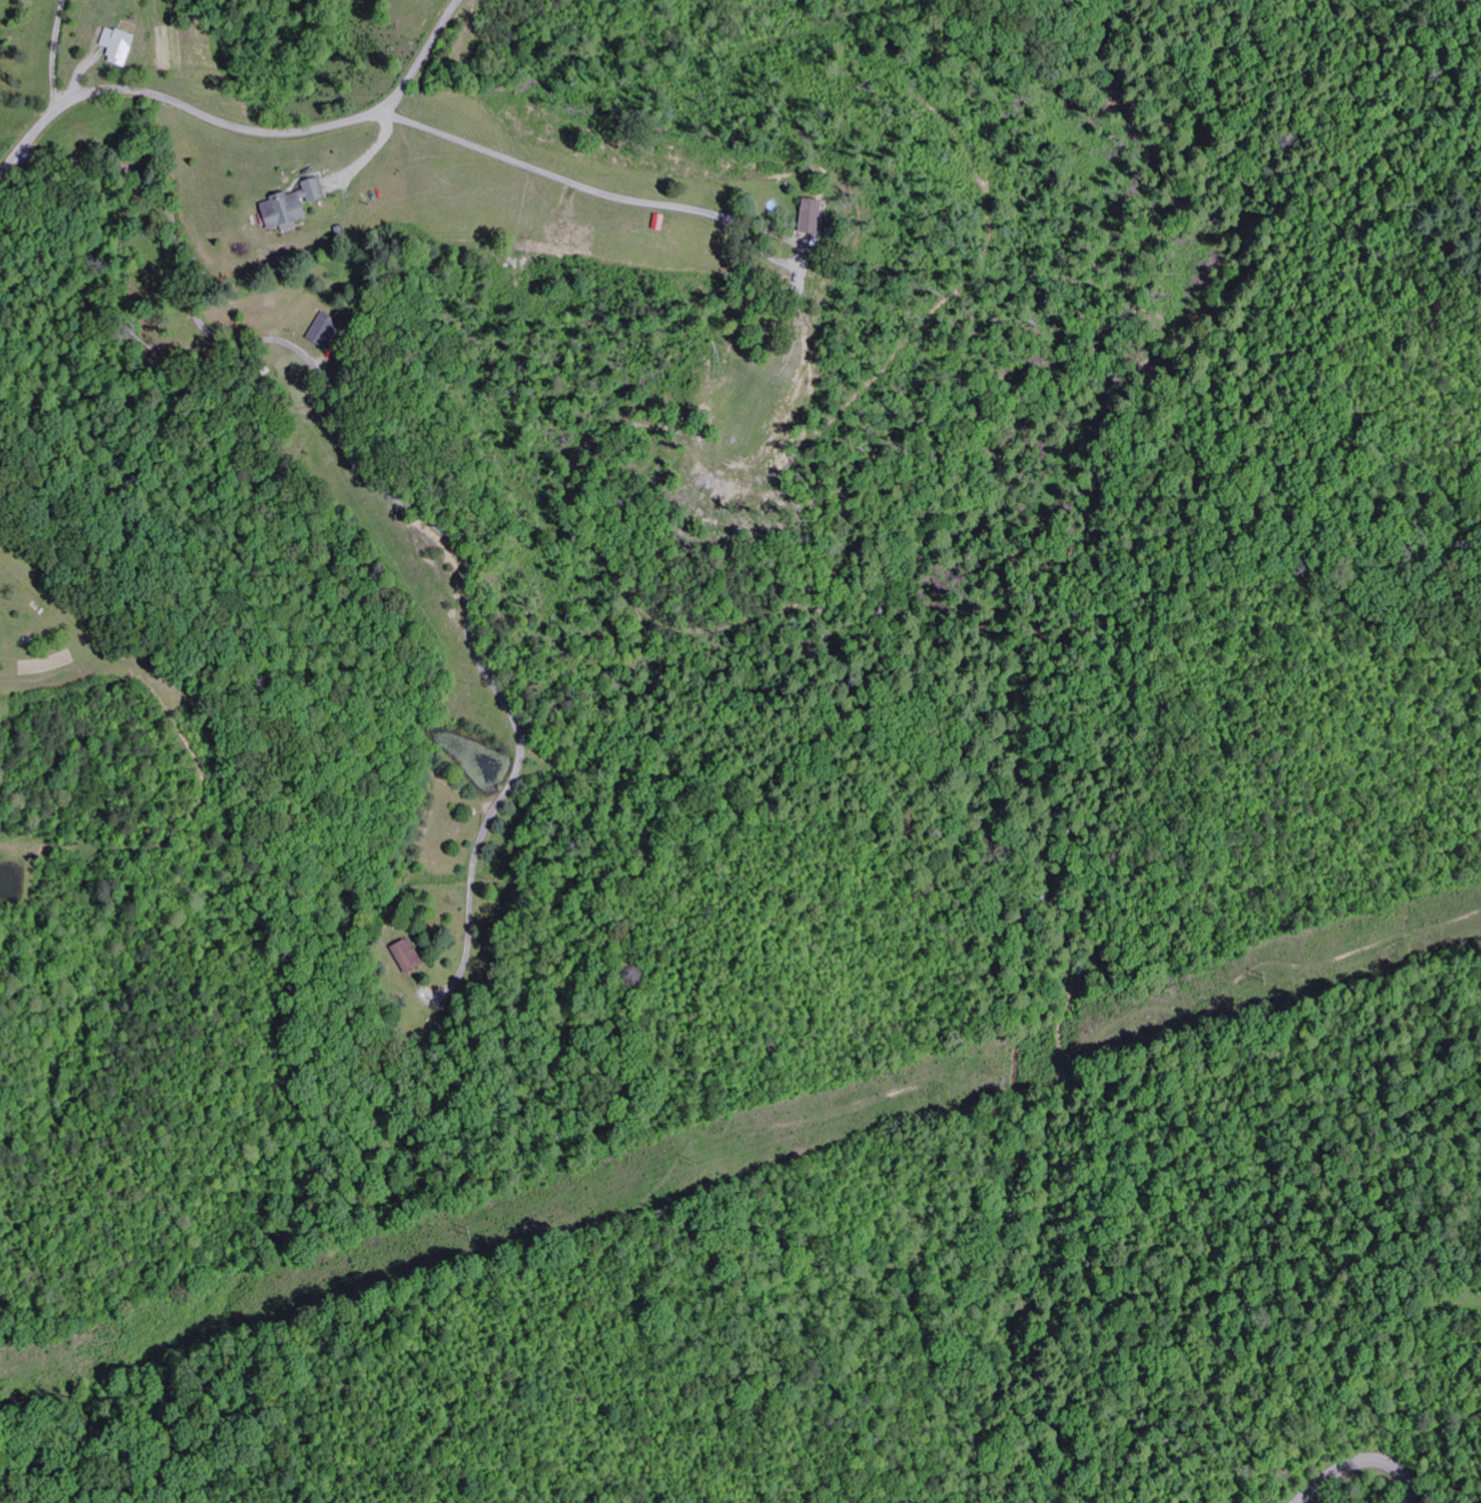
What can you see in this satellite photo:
building: (122, 44)
road: (239, 127)
road: (550, 173)
building: (299, 203)
building: (818, 212)
road: (180, 255)
building: (325, 333)
building: (411, 956)
road: (1359, 1464)

